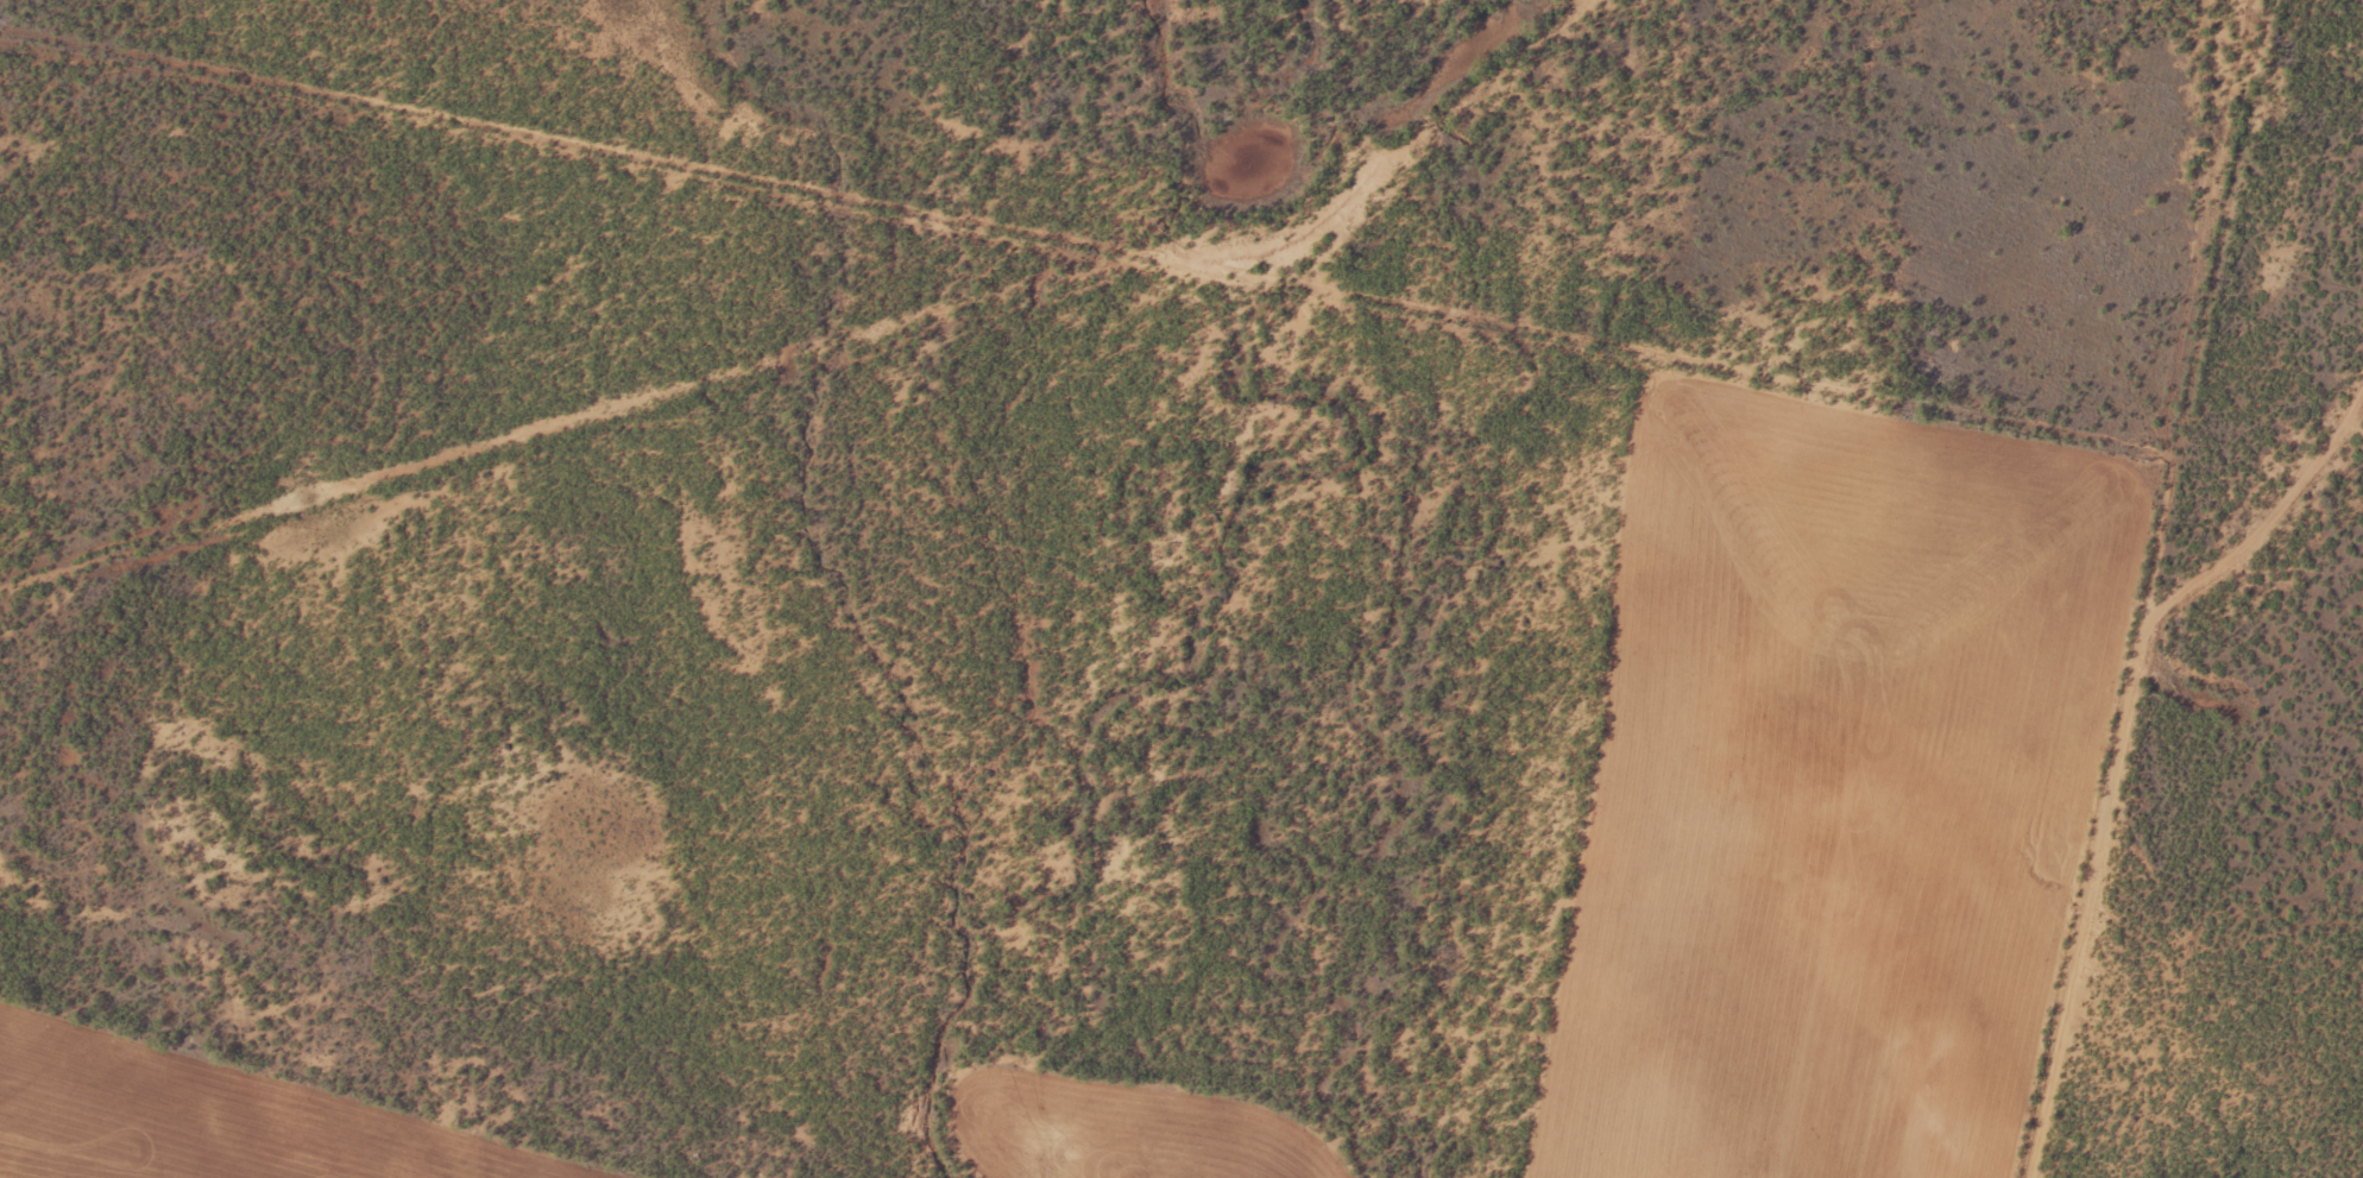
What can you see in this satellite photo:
road: (2119, 761)

